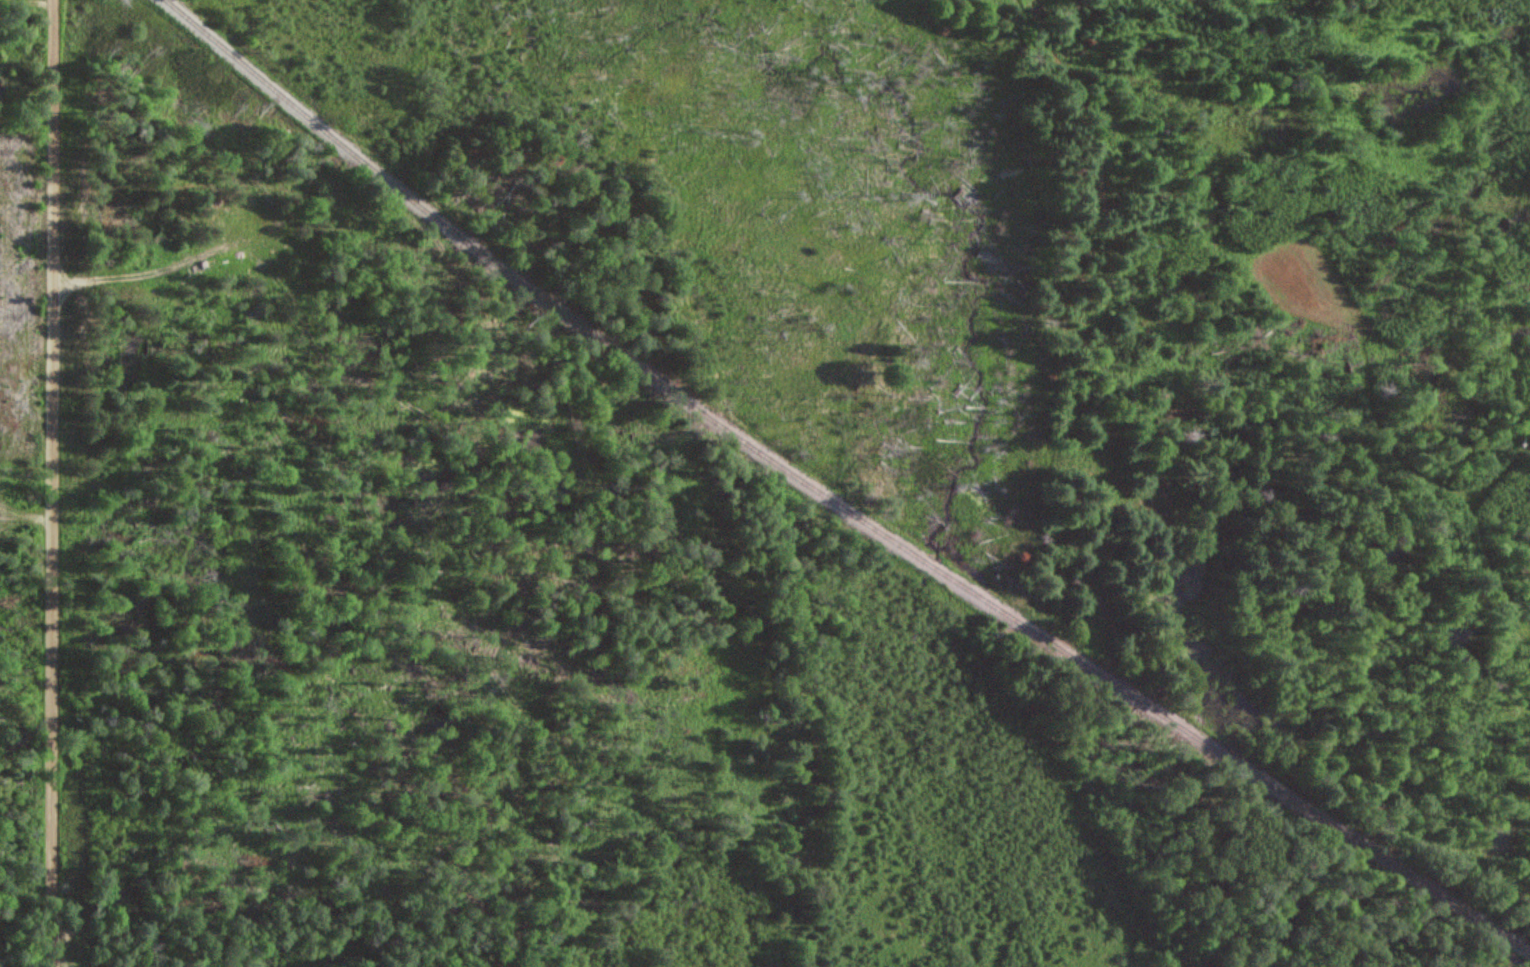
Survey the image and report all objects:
road: (38, 2)
road: (58, 483)
railway: (831, 499)

